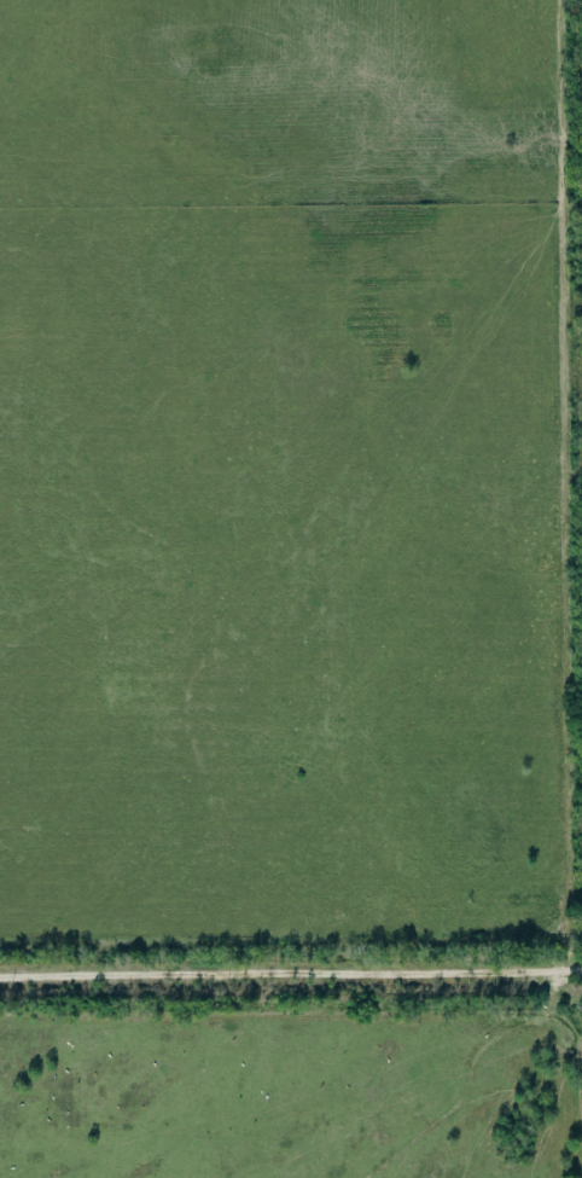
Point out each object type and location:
road: (291, 977)

